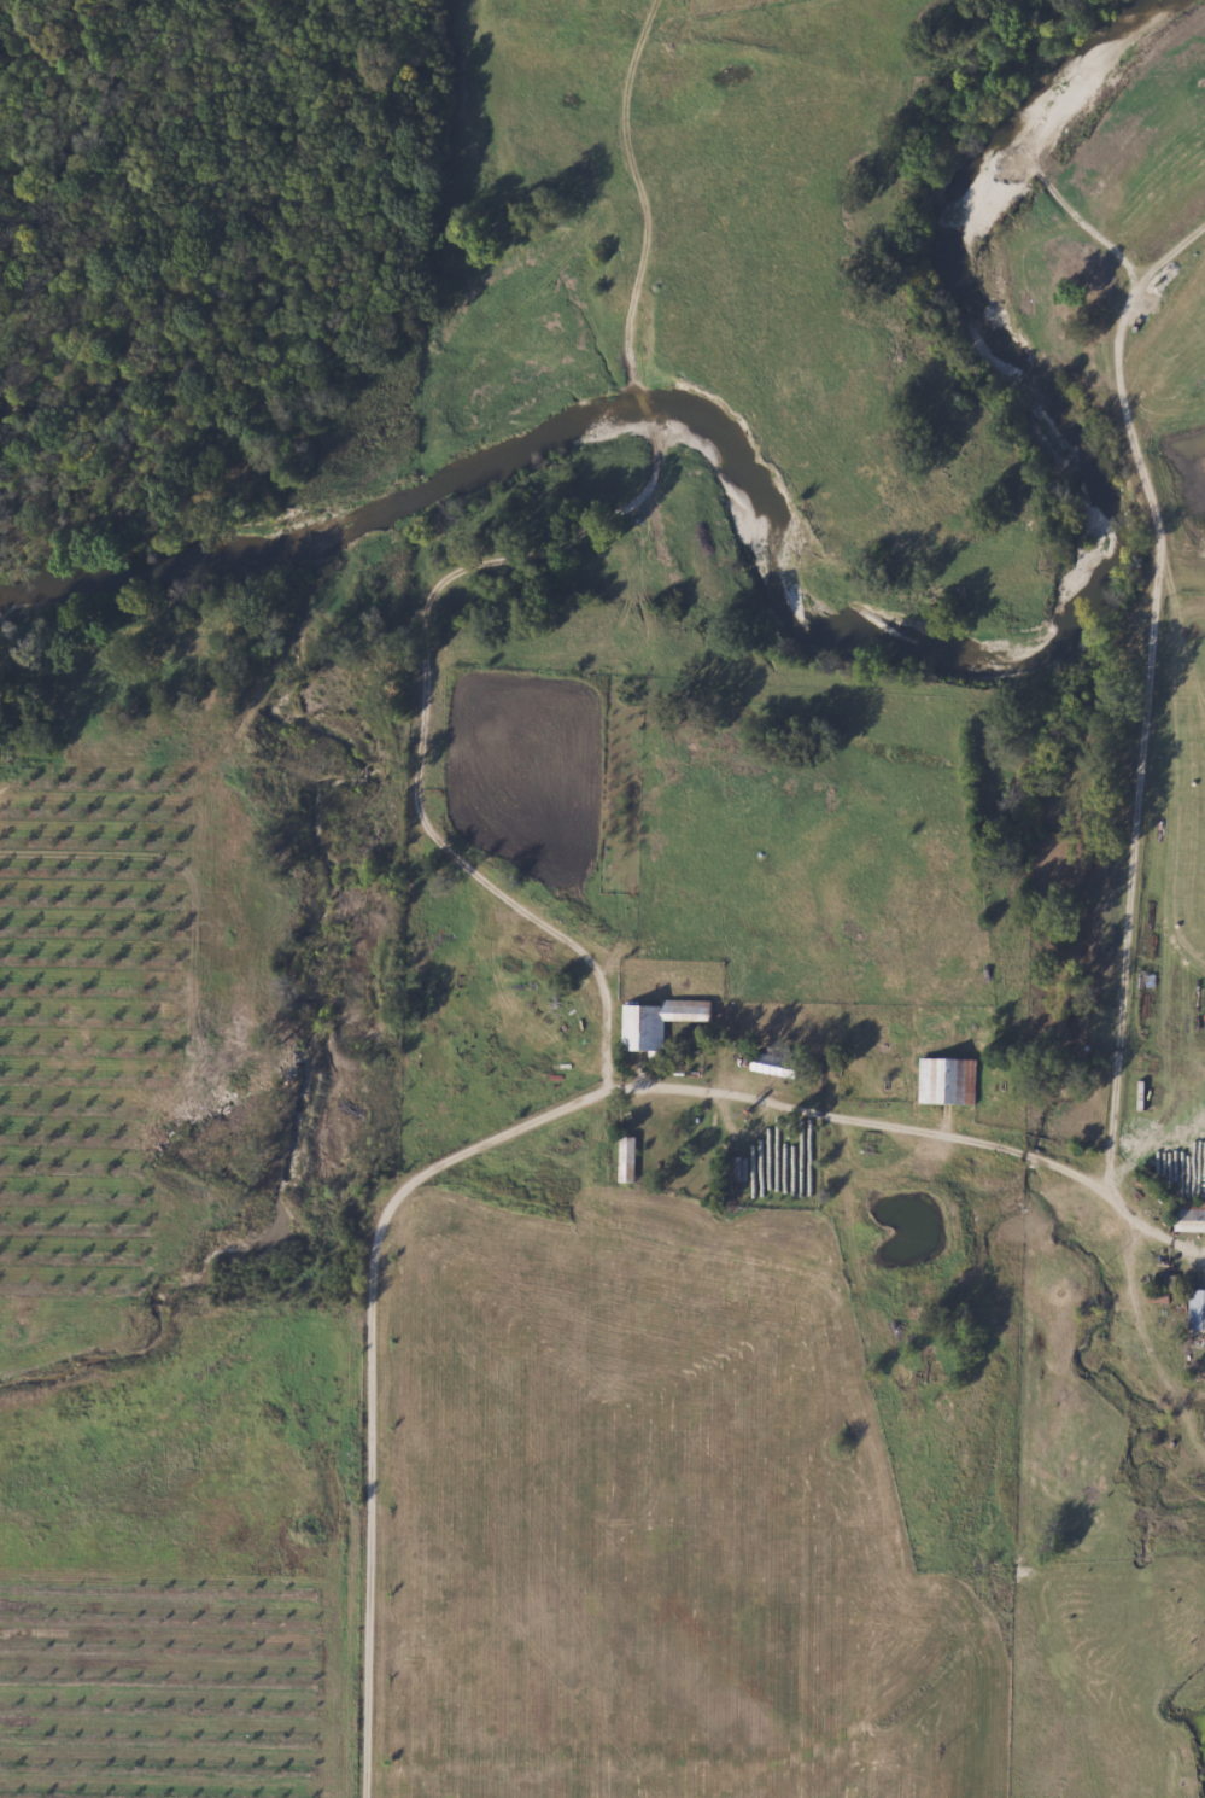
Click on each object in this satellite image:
river: (846, 636)
building: (81, 774)
building: (656, 1023)
building: (764, 1066)
building: (946, 1082)
road: (509, 1132)
building: (626, 1161)
building: (768, 1172)
building: (1191, 1218)
building: (1197, 1312)

